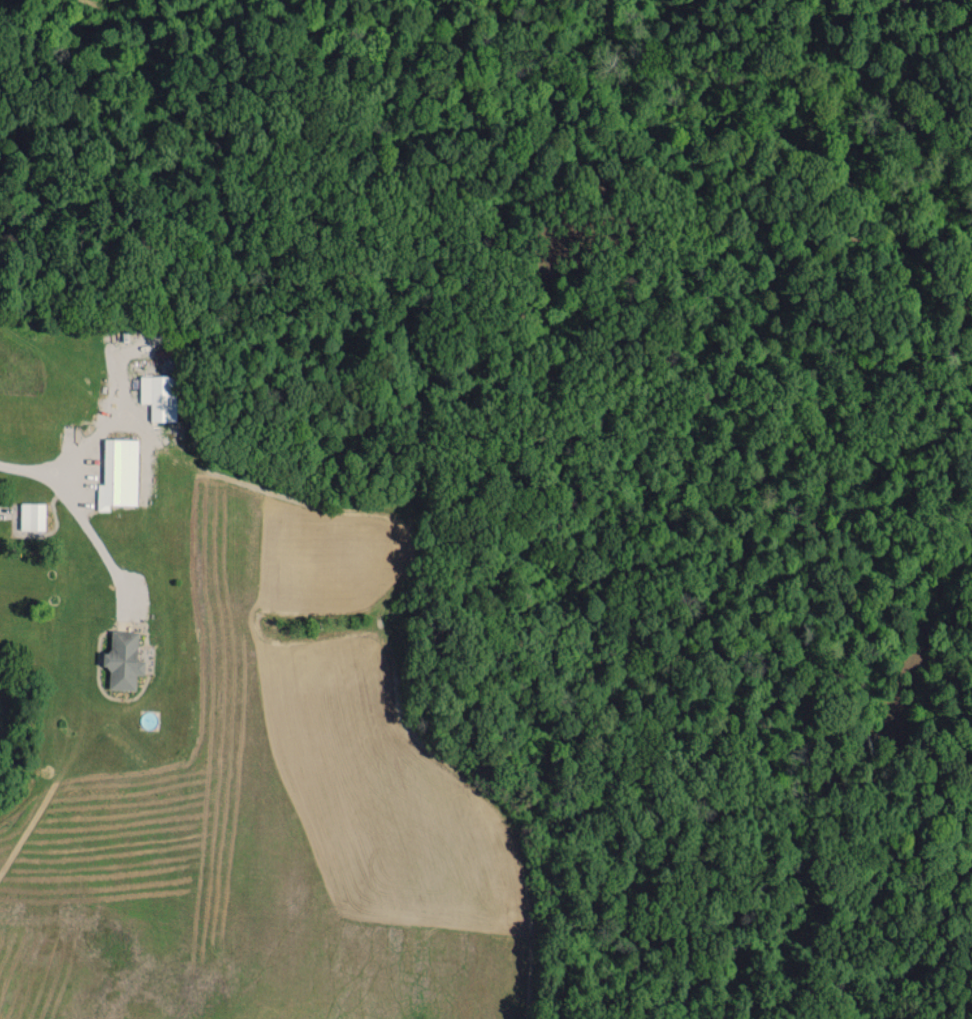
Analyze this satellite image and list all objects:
building: (158, 395)
road: (39, 467)
building: (118, 473)
building: (32, 515)
building: (123, 659)

